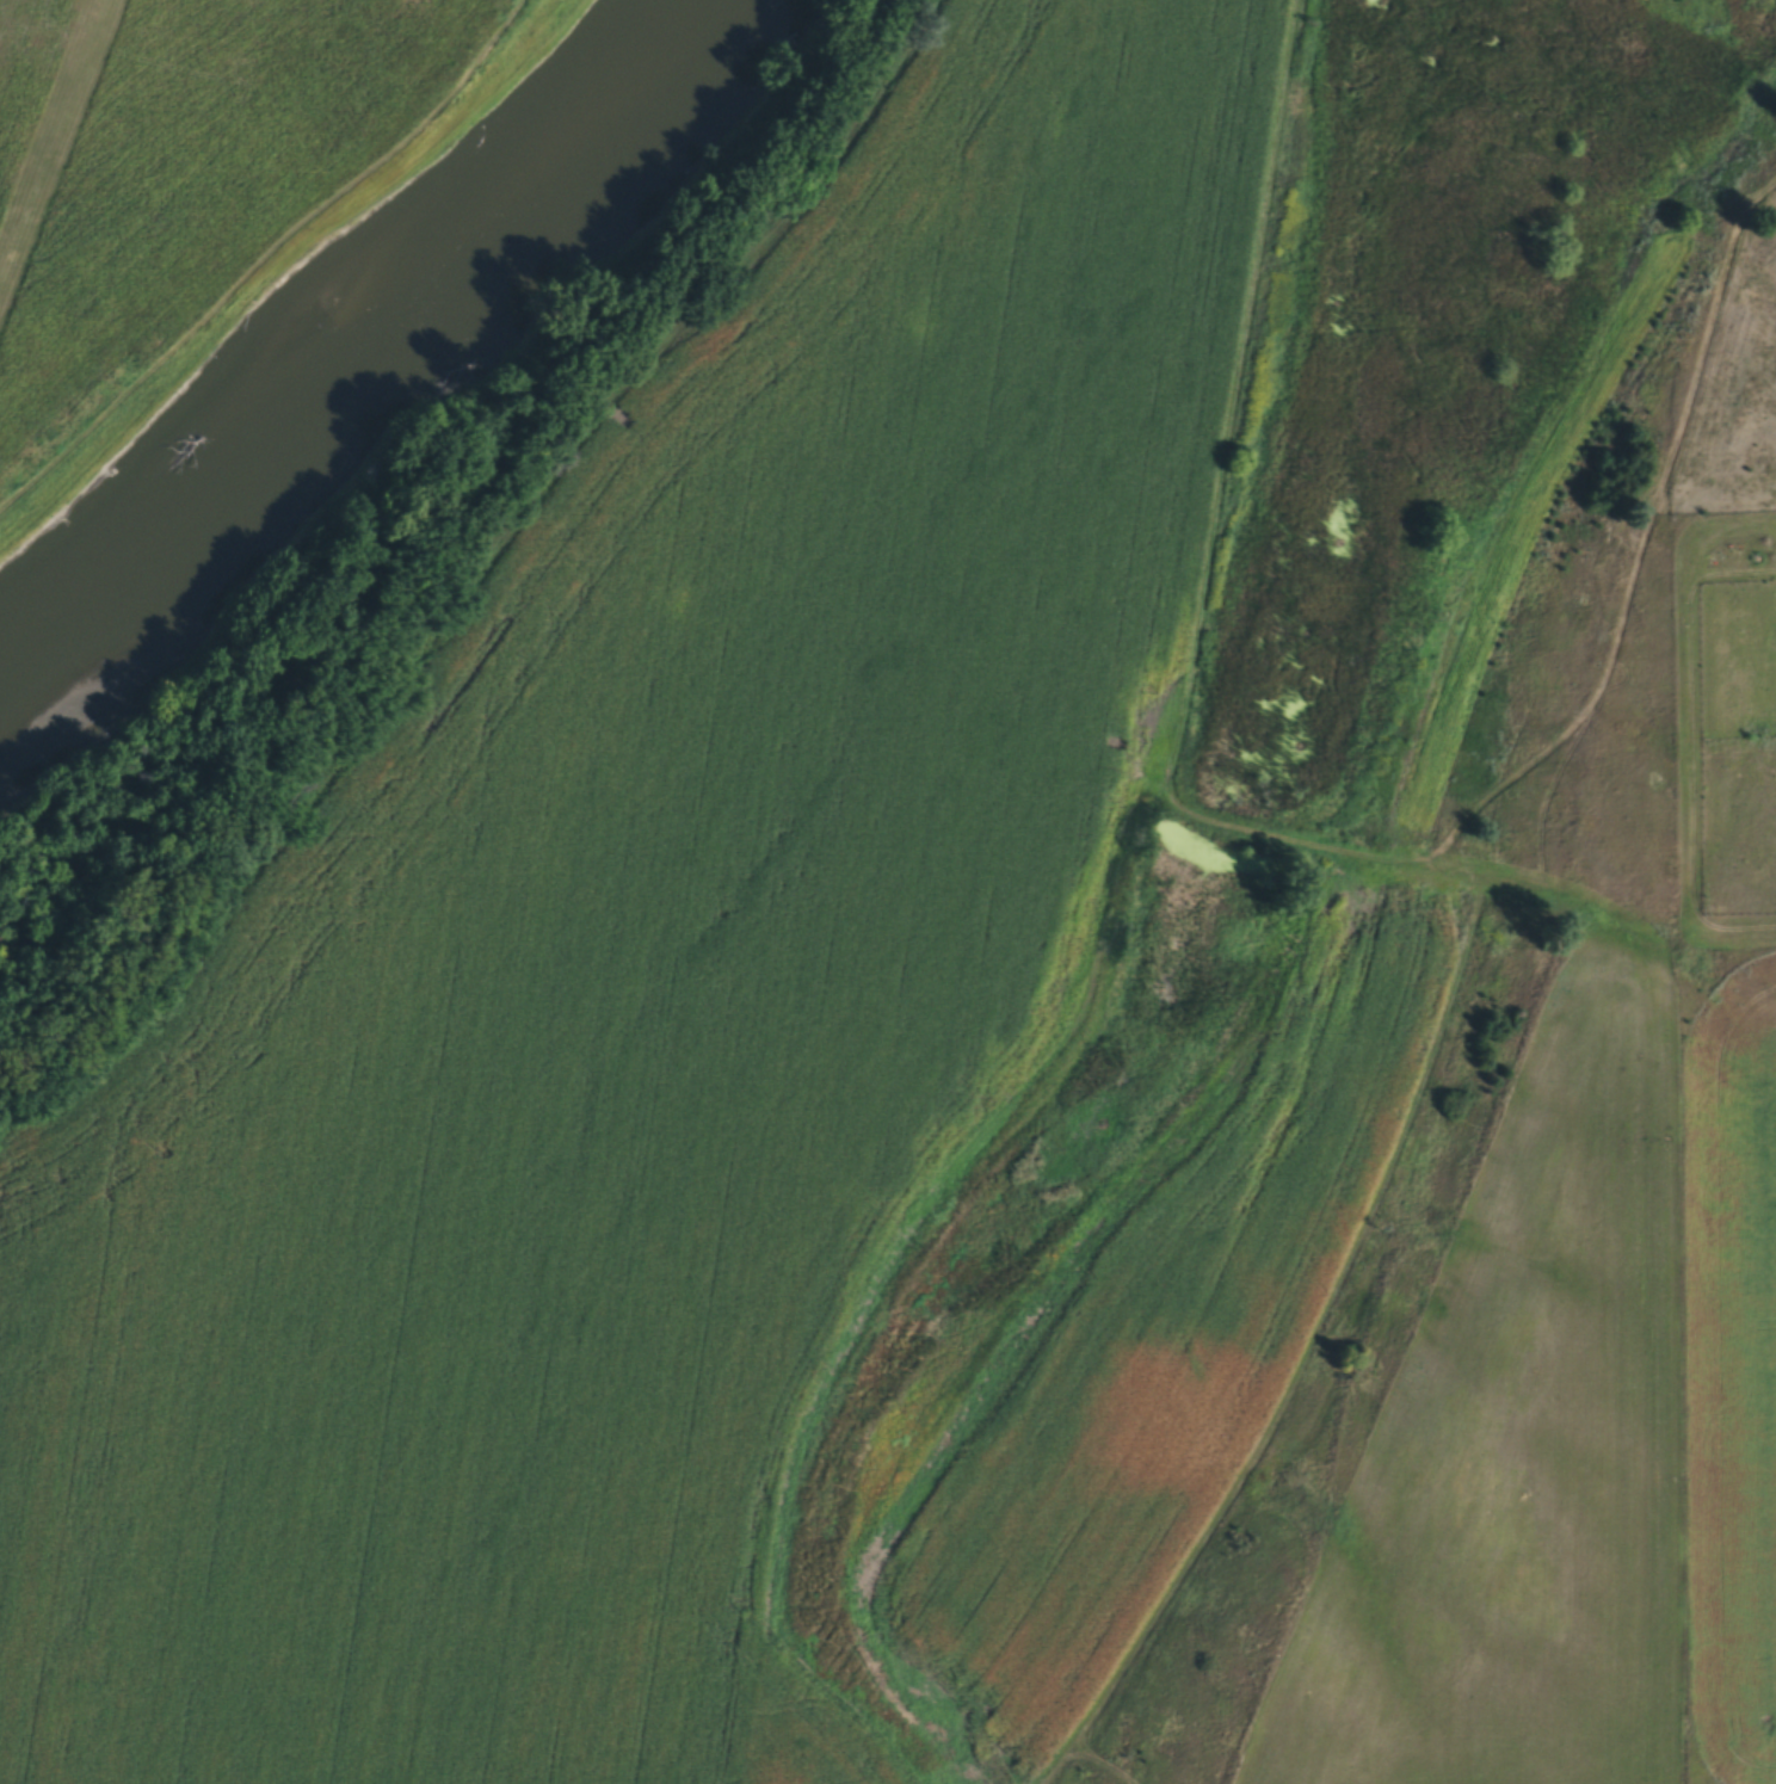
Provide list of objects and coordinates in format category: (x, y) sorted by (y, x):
river: (337, 341)

